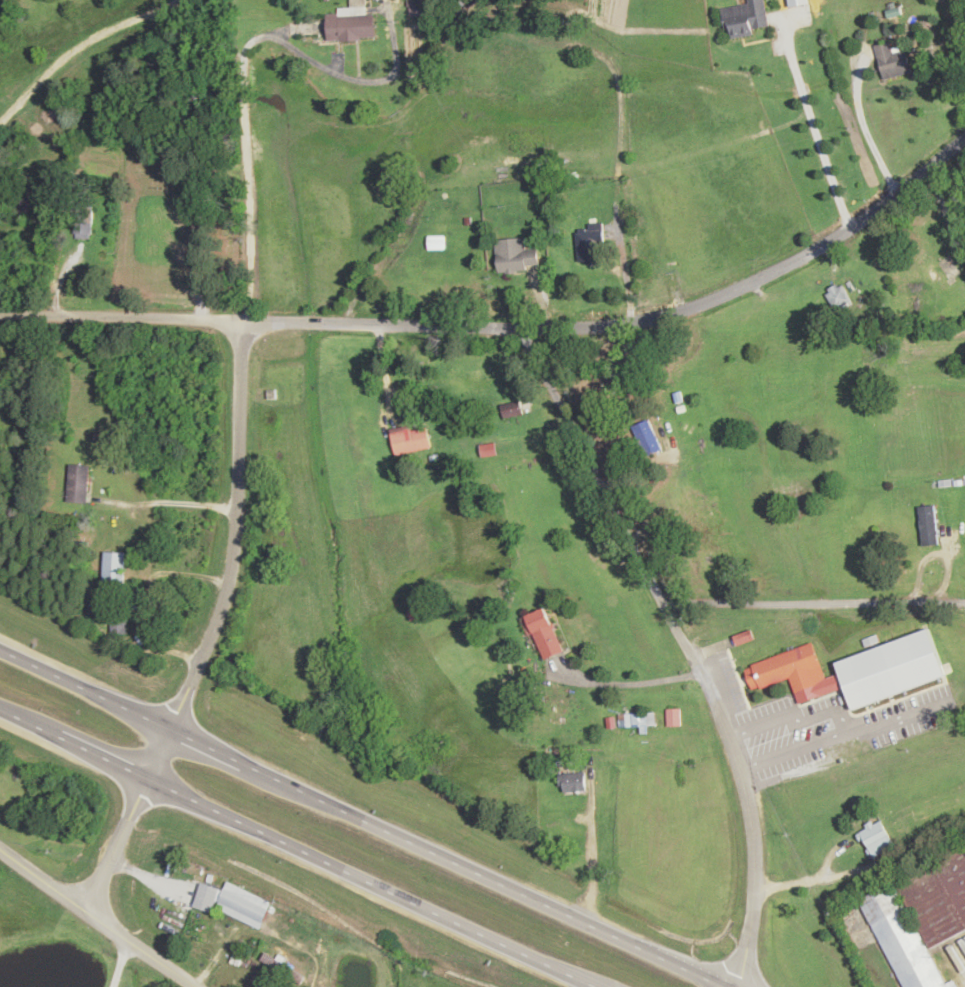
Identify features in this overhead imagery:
building: (461, 3)
building: (425, 4)
building: (747, 19)
building: (351, 23)
building: (892, 62)
building: (23, 195)
building: (82, 226)
building: (589, 241)
building: (518, 261)
building: (838, 298)
road: (509, 331)
building: (467, 382)
building: (516, 409)
building: (645, 436)
building: (412, 440)
building: (78, 484)
building: (929, 526)
building: (114, 571)
building: (119, 622)
road: (216, 630)
building: (545, 633)
building: (744, 638)
road: (686, 646)
building: (789, 670)
road: (85, 689)
building: (673, 717)
building: (635, 720)
road: (29, 723)
road: (207, 746)
road: (103, 757)
building: (572, 783)
building: (12, 800)
building: (877, 839)
road: (861, 864)
road: (482, 875)
road: (368, 882)
building: (206, 898)
building: (243, 906)
building: (919, 919)
road: (96, 920)
road: (120, 964)

